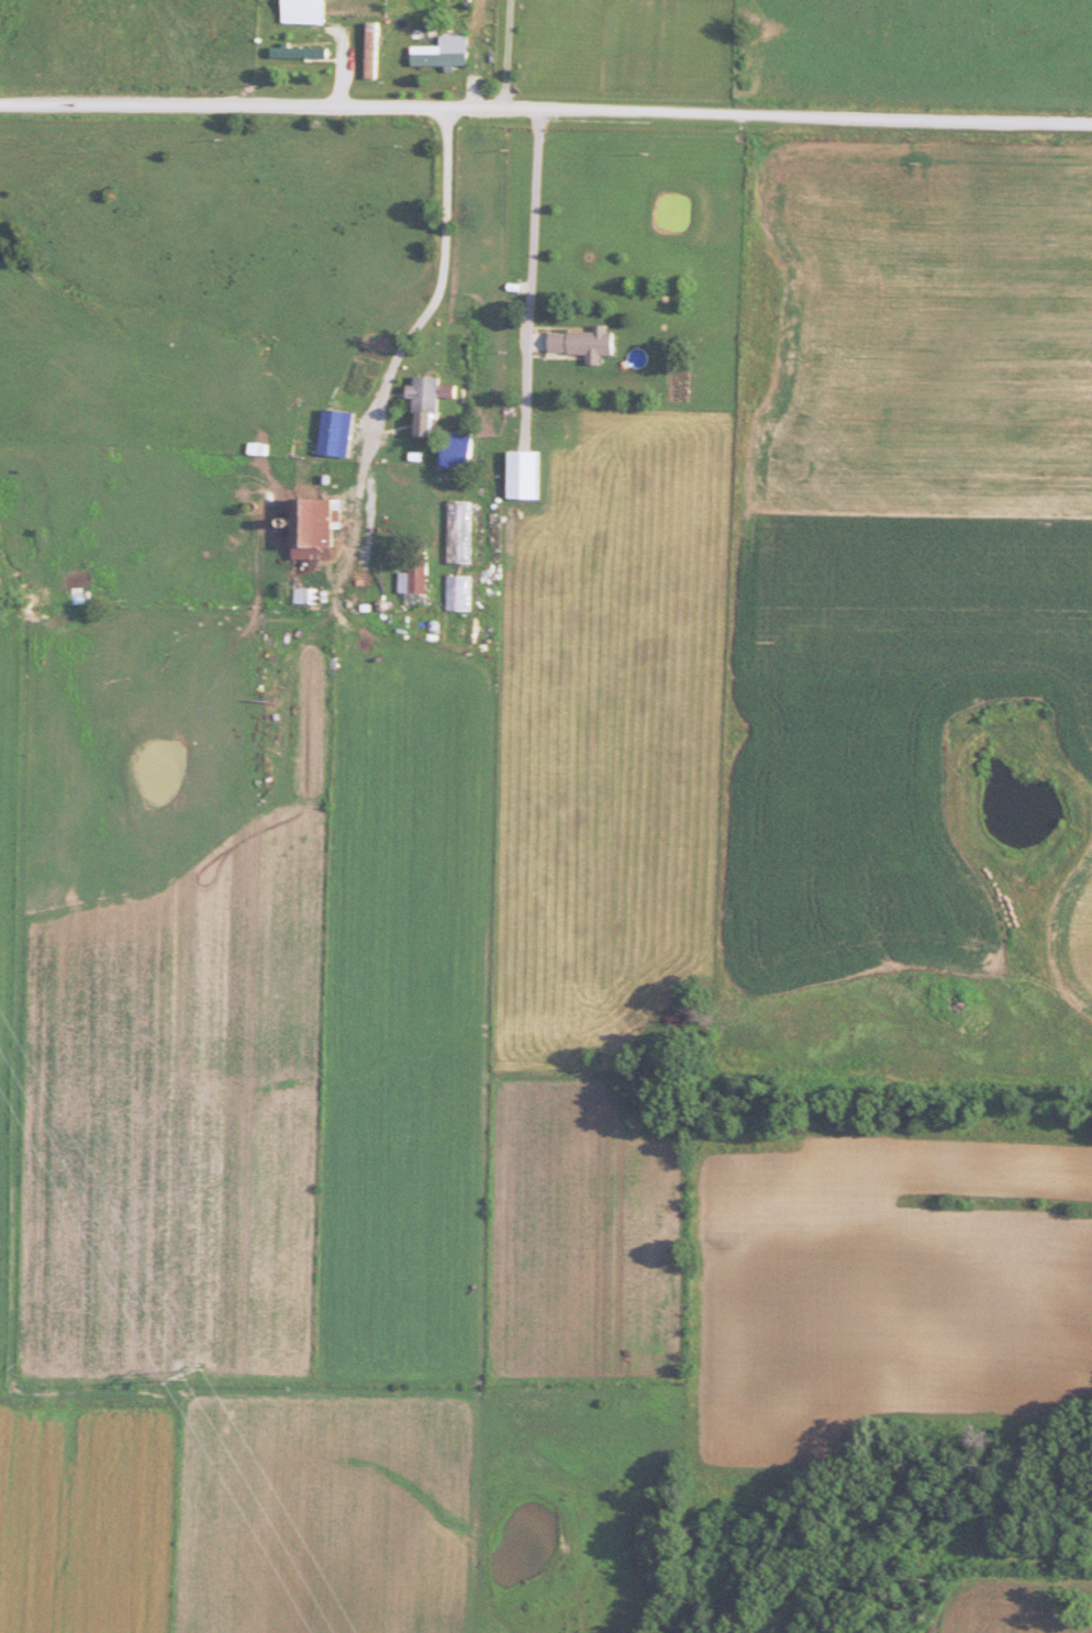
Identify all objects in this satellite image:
building: (310, 12)
building: (378, 51)
building: (304, 53)
building: (447, 53)
road: (509, 56)
road: (546, 113)
road: (535, 253)
road: (435, 306)
building: (591, 343)
building: (432, 395)
building: (466, 440)
building: (531, 475)
building: (322, 529)
building: (464, 532)
building: (293, 629)
power tower: (199, 1374)

